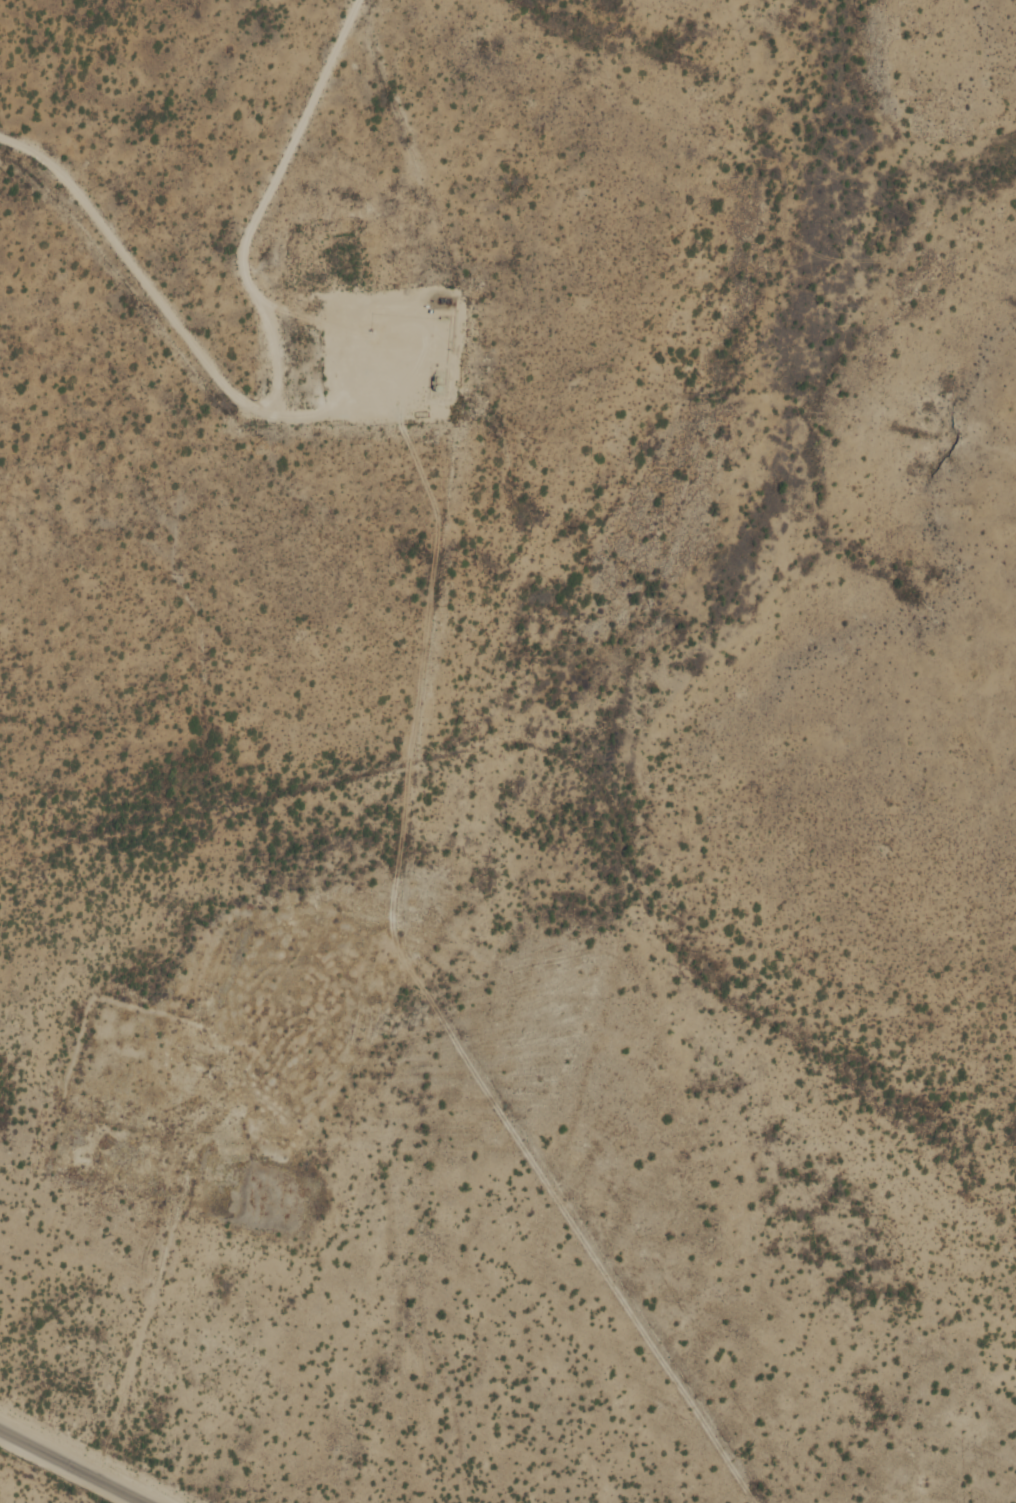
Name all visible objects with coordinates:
road: (151, 1299)
road: (72, 1466)

